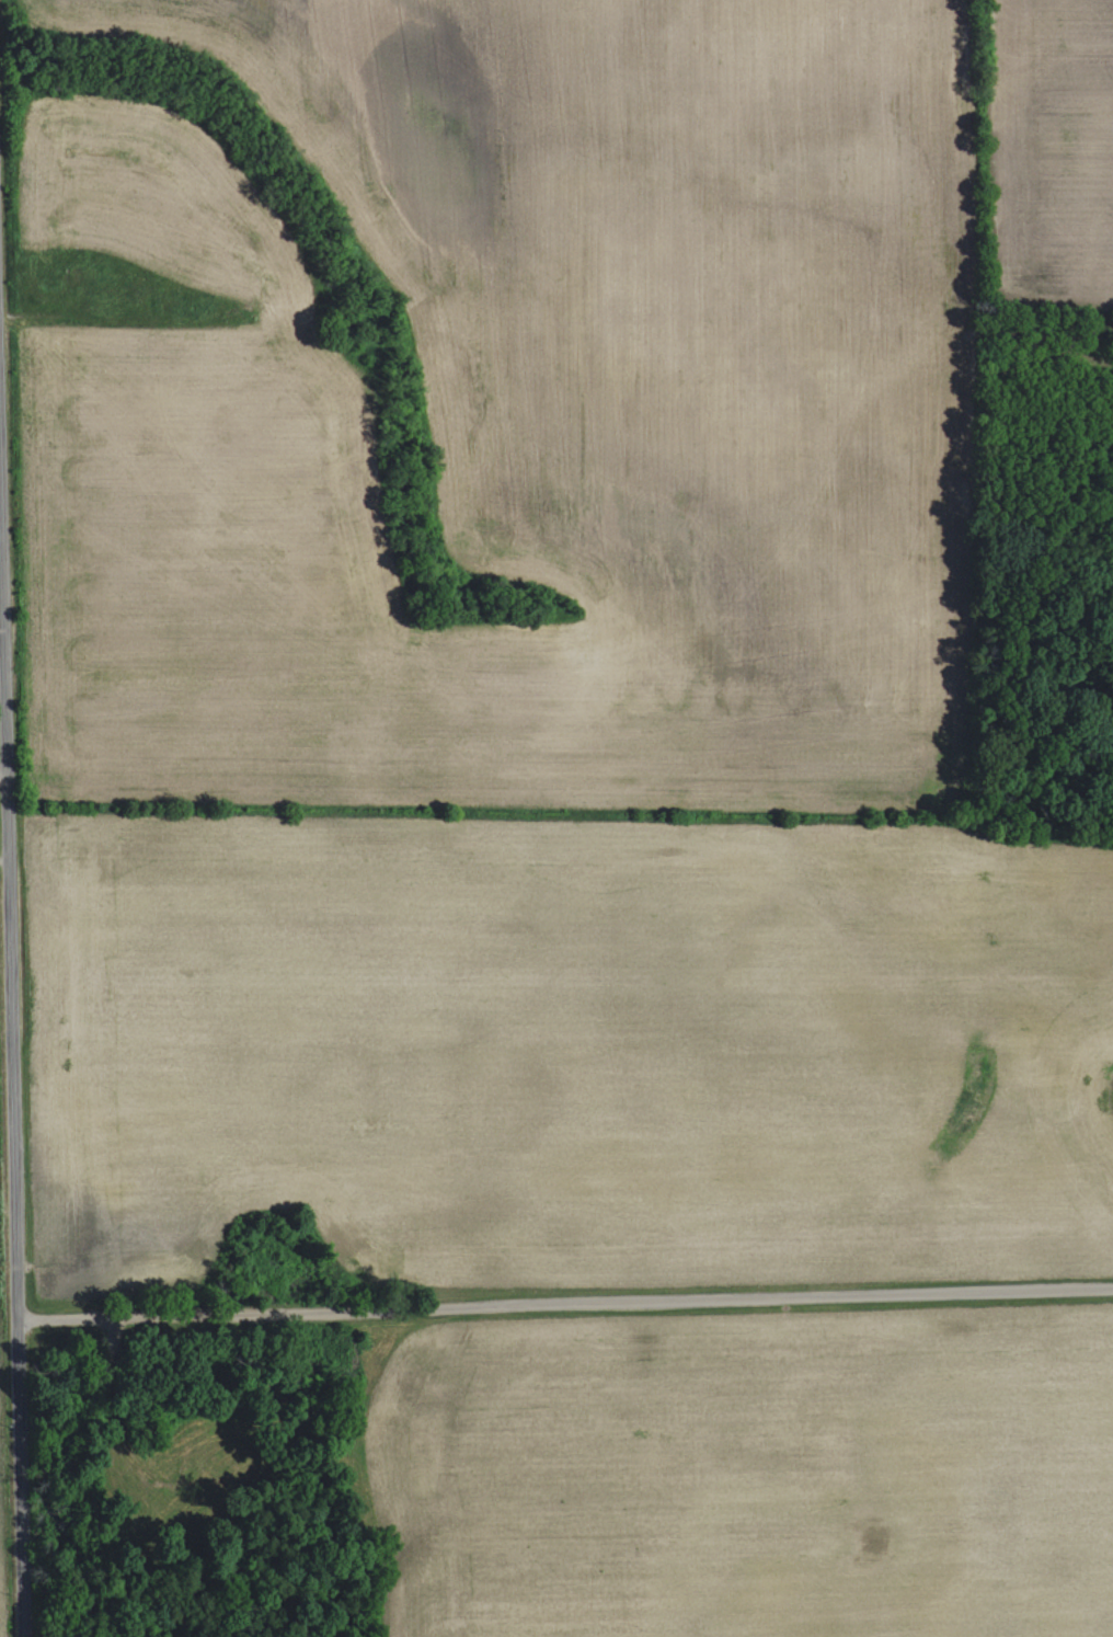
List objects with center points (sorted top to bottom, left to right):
road: (13, 1037)
road: (565, 1300)

